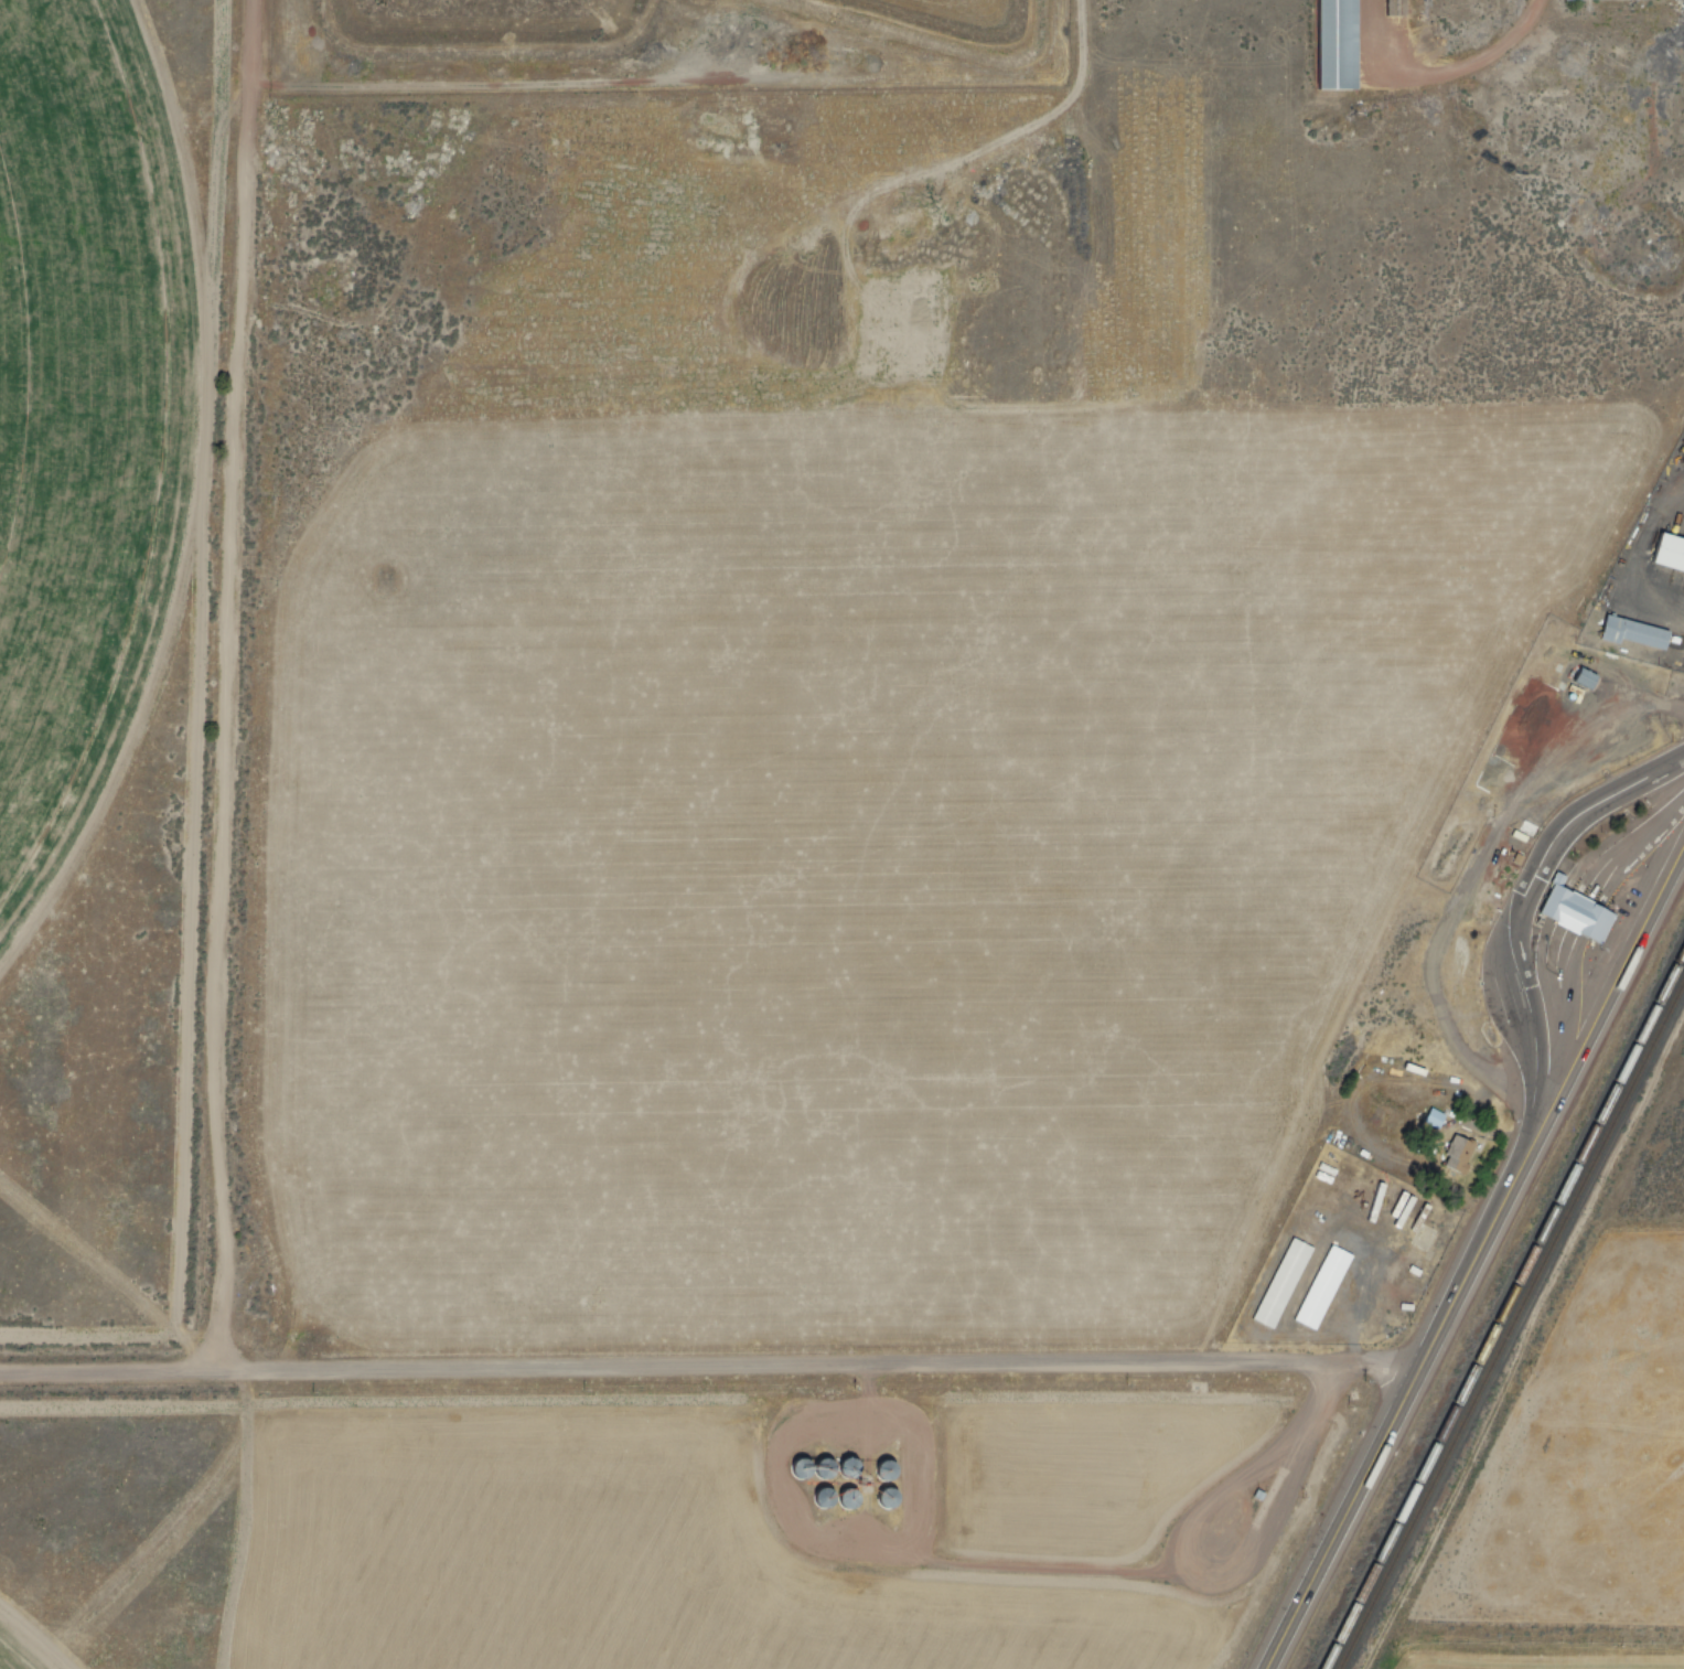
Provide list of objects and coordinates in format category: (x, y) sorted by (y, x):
building: (1570, 0)
wastewater plant: (952, 15)
wastewater plant: (496, 18)
building: (1329, 44)
building: (1666, 554)
building: (1633, 633)
building: (1583, 677)
road: (235, 689)
road: (1629, 845)
building: (1557, 879)
road: (1521, 903)
building: (1576, 912)
road: (1602, 1020)
road: (1558, 1055)
building: (1431, 1115)
building: (1455, 1145)
building: (1278, 1282)
building: (1319, 1285)
railway: (1500, 1303)
railway: (1520, 1333)
road: (704, 1369)
road: (867, 1392)
road: (1381, 1421)
storage tank: (800, 1467)
storage tank: (825, 1467)
storage tank: (850, 1467)
storage tank: (886, 1468)
storage tank: (822, 1496)
storage tank: (887, 1496)
storage tank: (847, 1497)
road: (932, 1550)

